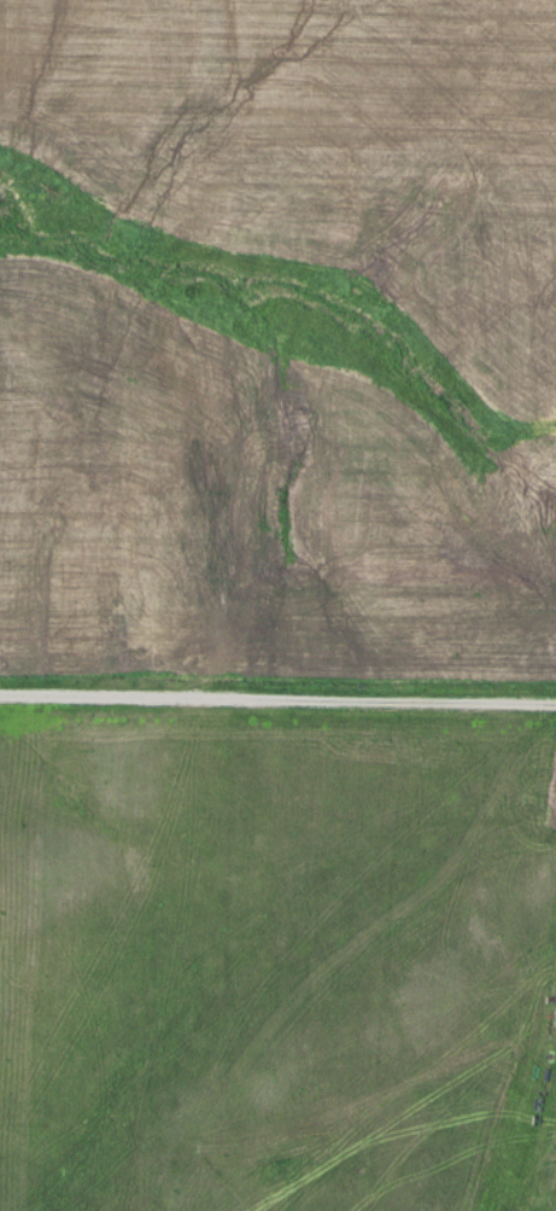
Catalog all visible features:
road: (277, 753)

